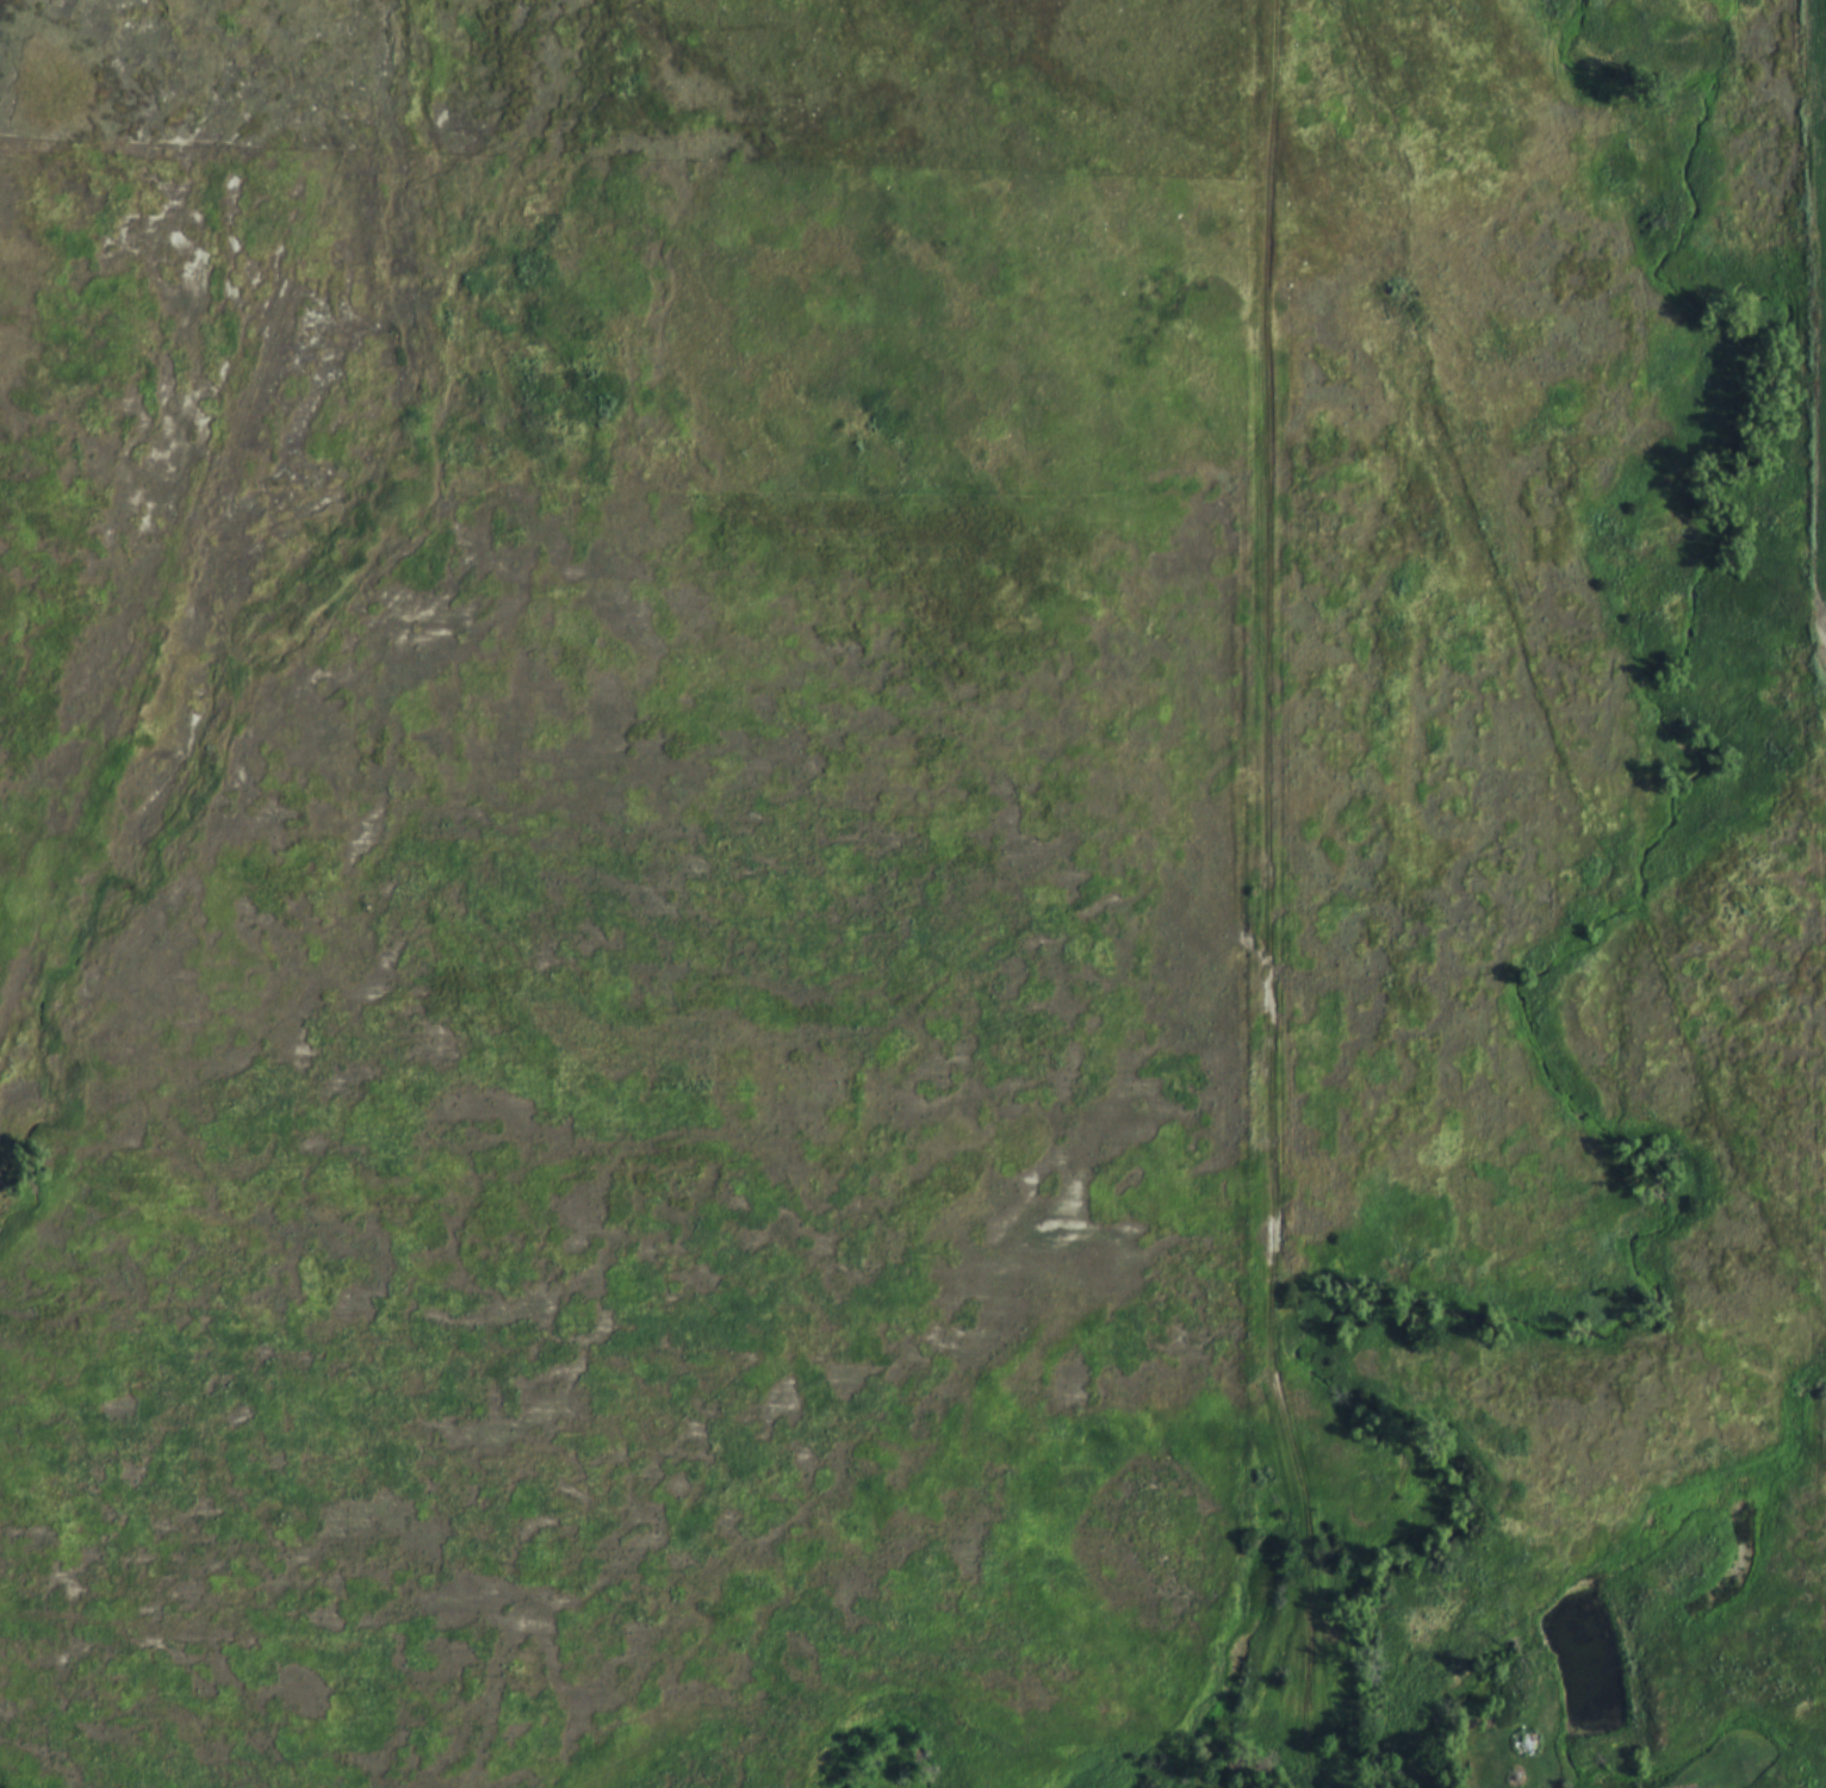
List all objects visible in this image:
road: (1272, 989)

